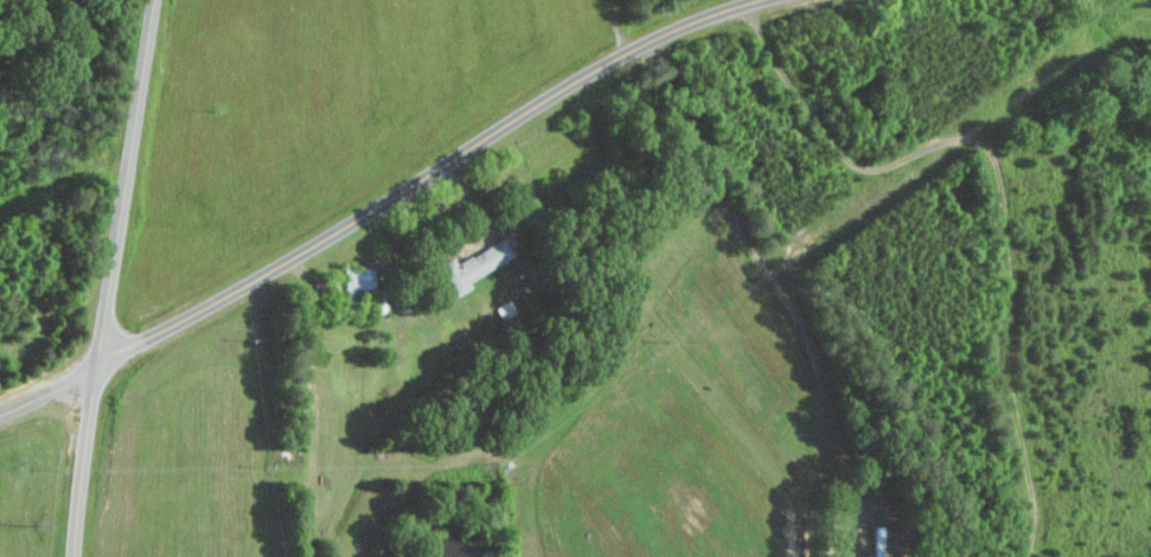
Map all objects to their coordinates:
road: (386, 201)
building: (472, 265)
road: (117, 277)
building: (356, 278)

